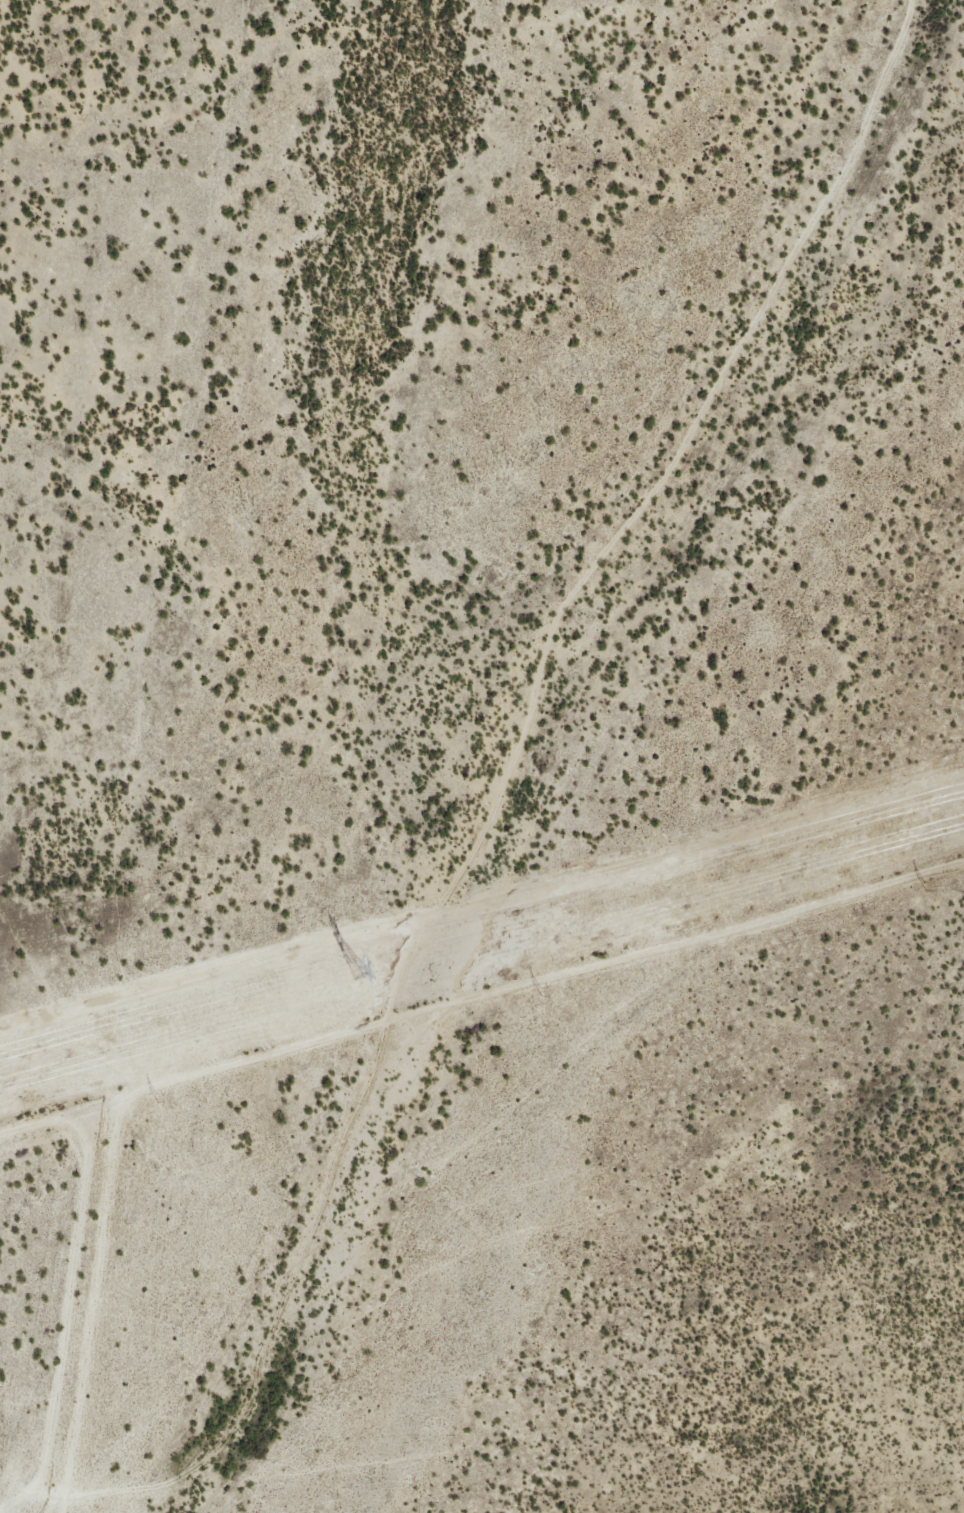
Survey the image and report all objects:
road: (785, 212)
power tower: (922, 886)
power tower: (349, 968)
power tower: (539, 991)
road: (388, 1026)
power tower: (154, 1098)

